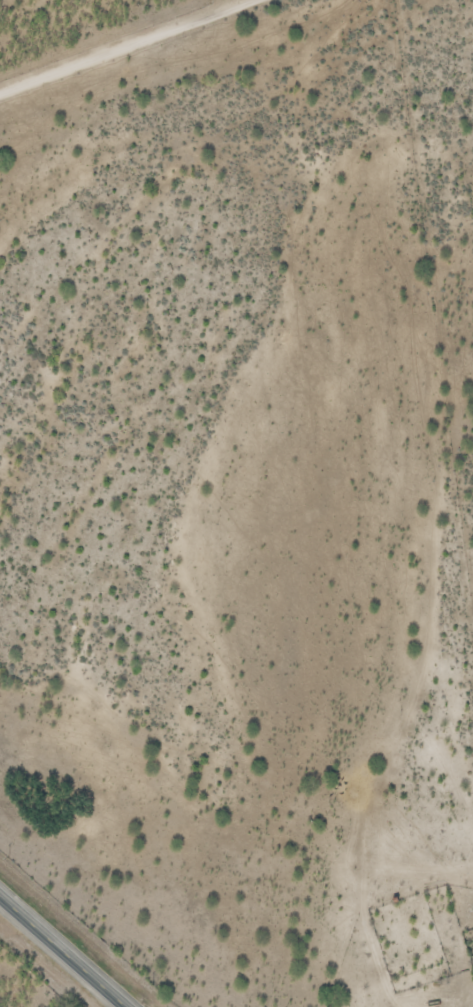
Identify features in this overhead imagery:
railway: (103, 914)
road: (65, 949)

